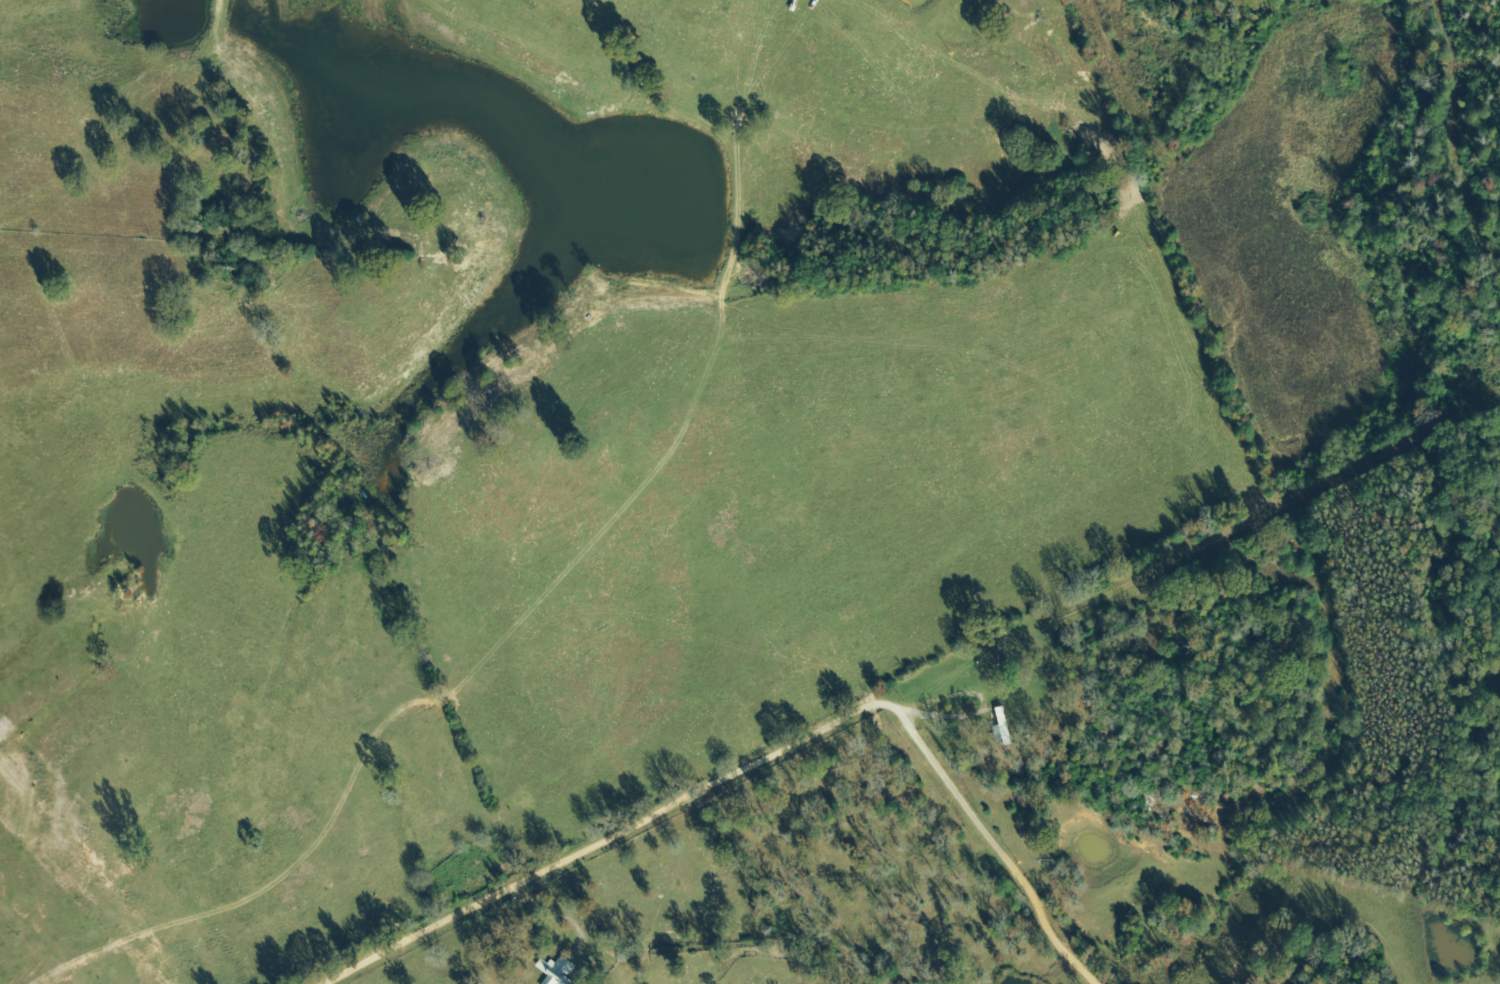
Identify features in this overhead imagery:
road: (986, 841)
road: (596, 842)

